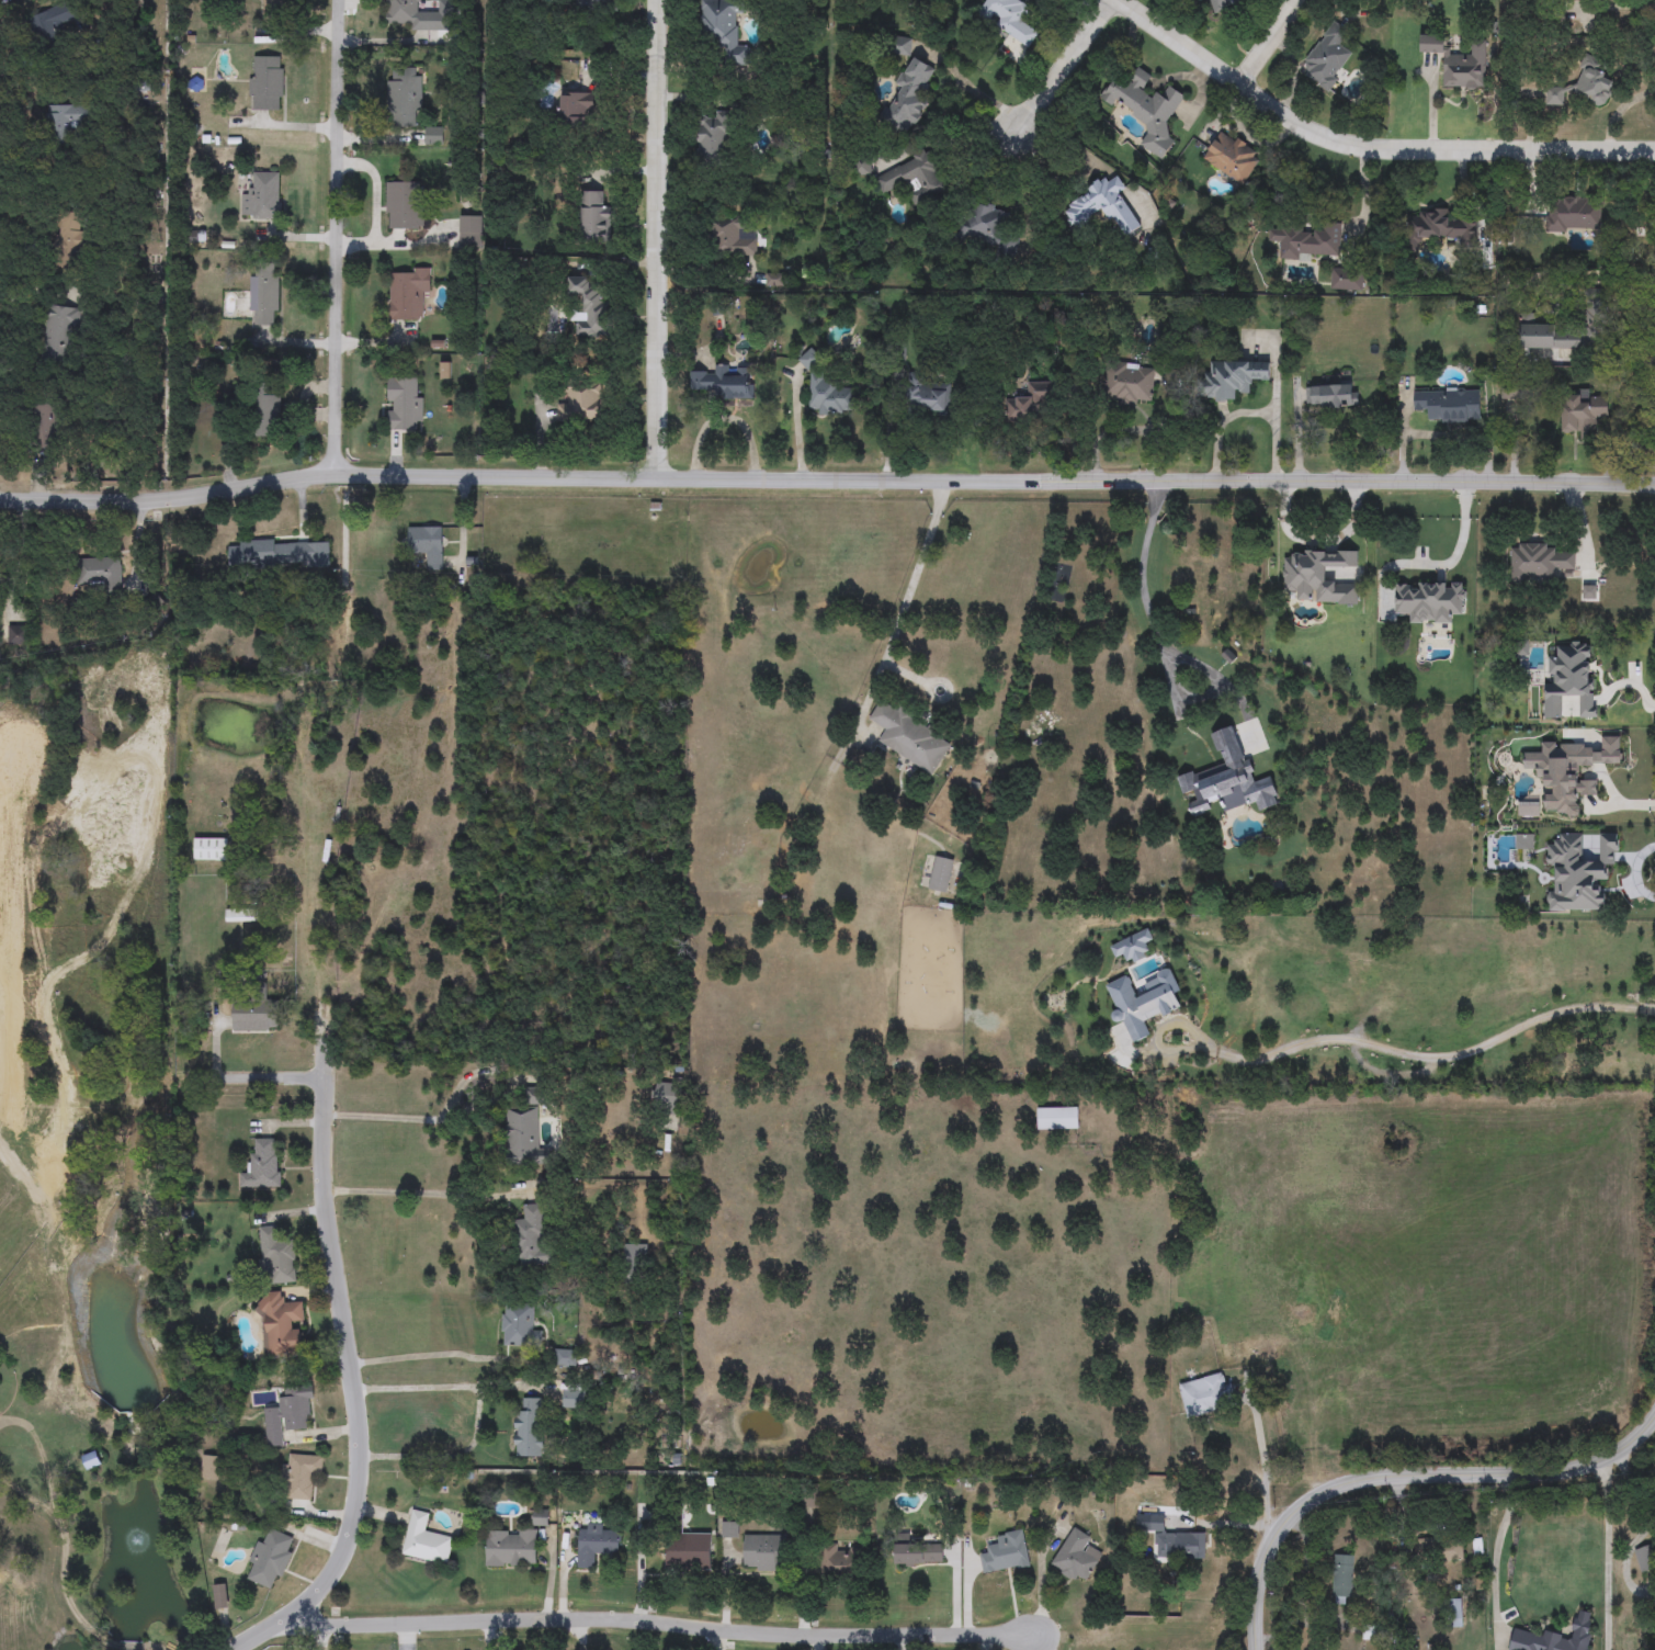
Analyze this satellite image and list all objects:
building: (1200, 1)
building: (1223, 3)
building: (594, 5)
building: (272, 8)
building: (407, 14)
building: (1010, 19)
building: (722, 30)
road: (1268, 43)
building: (899, 46)
building: (1327, 58)
building: (1459, 63)
road: (1065, 65)
building: (267, 83)
building: (1585, 84)
building: (404, 95)
building: (907, 98)
building: (1146, 109)
building: (575, 110)
building: (63, 123)
building: (433, 136)
building: (713, 137)
road: (1363, 147)
building: (1233, 158)
building: (912, 179)
road: (385, 188)
building: (263, 197)
building: (1102, 207)
building: (413, 211)
building: (1573, 214)
building: (592, 215)
building: (987, 228)
building: (1440, 228)
building: (478, 233)
road: (336, 237)
road: (661, 238)
building: (730, 238)
building: (1307, 241)
road: (399, 248)
building: (1347, 279)
building: (408, 293)
building: (264, 294)
building: (589, 306)
building: (59, 334)
building: (1552, 338)
building: (808, 360)
building: (1233, 378)
building: (721, 383)
building: (1129, 385)
building: (927, 396)
building: (1333, 396)
building: (830, 398)
building: (580, 404)
building: (1442, 404)
building: (405, 405)
building: (1029, 407)
building: (265, 411)
building: (1583, 414)
road: (735, 420)
building: (44, 427)
road: (1156, 429)
road: (1103, 434)
road: (1294, 437)
road: (826, 478)
building: (428, 546)
building: (279, 555)
building: (1537, 563)
road: (1433, 566)
building: (99, 573)
road: (918, 573)
building: (1194, 576)
building: (16, 636)
road: (1171, 674)
building: (1562, 705)
building: (909, 737)
building: (1248, 760)
building: (1540, 793)
road: (1620, 807)
building: (211, 850)
building: (941, 875)
building: (1617, 877)
building: (1485, 893)
building: (241, 916)
building: (254, 1018)
road: (1415, 1056)
road: (249, 1077)
building: (667, 1107)
building: (1057, 1119)
road: (415, 1120)
building: (523, 1135)
building: (262, 1165)
road: (415, 1195)
building: (530, 1236)
building: (275, 1256)
building: (282, 1326)
building: (519, 1326)
road: (345, 1343)
road: (426, 1357)
building: (565, 1358)
road: (445, 1389)
building: (1203, 1394)
building: (571, 1399)
building: (287, 1416)
building: (530, 1427)
road: (446, 1459)
road: (1261, 1463)
building: (209, 1468)
building: (303, 1476)
road: (1406, 1478)
building: (537, 1518)
building: (426, 1540)
building: (1176, 1542)
building: (597, 1545)
building: (511, 1549)
building: (1439, 1550)
building: (688, 1551)
road: (63, 1552)
building: (764, 1553)
building: (918, 1555)
building: (1006, 1555)
road: (1607, 1555)
building: (1076, 1557)
building: (1645, 1558)
building: (269, 1559)
road: (1495, 1559)
building: (840, 1562)
building: (1342, 1580)
building: (220, 1596)
building: (1455, 1614)
road: (655, 1626)
building: (1527, 1635)
road: (406, 1636)
road: (259, 1638)
road: (319, 1638)
road: (716, 1641)
road: (135, 1647)

